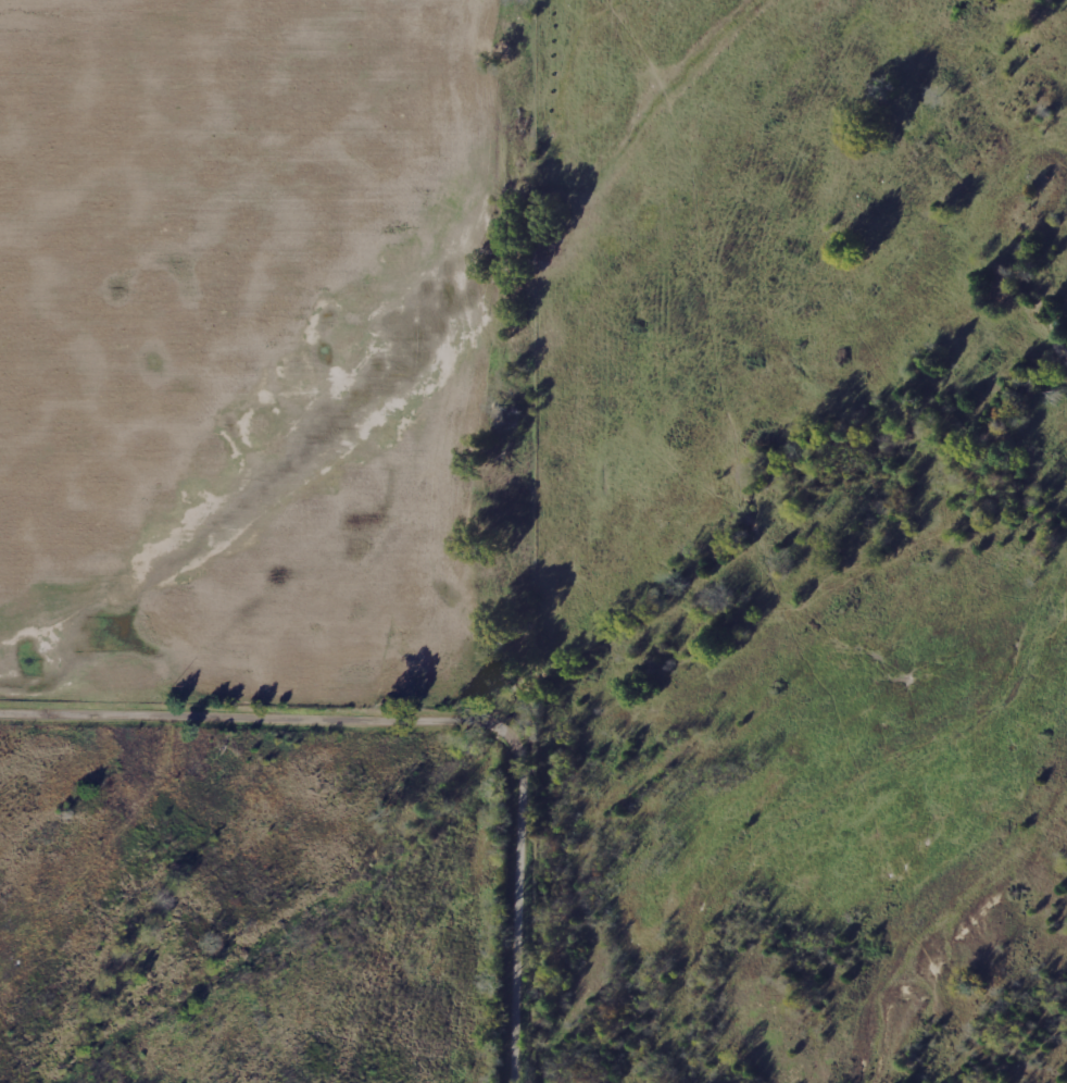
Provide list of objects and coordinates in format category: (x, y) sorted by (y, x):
road: (435, 723)

